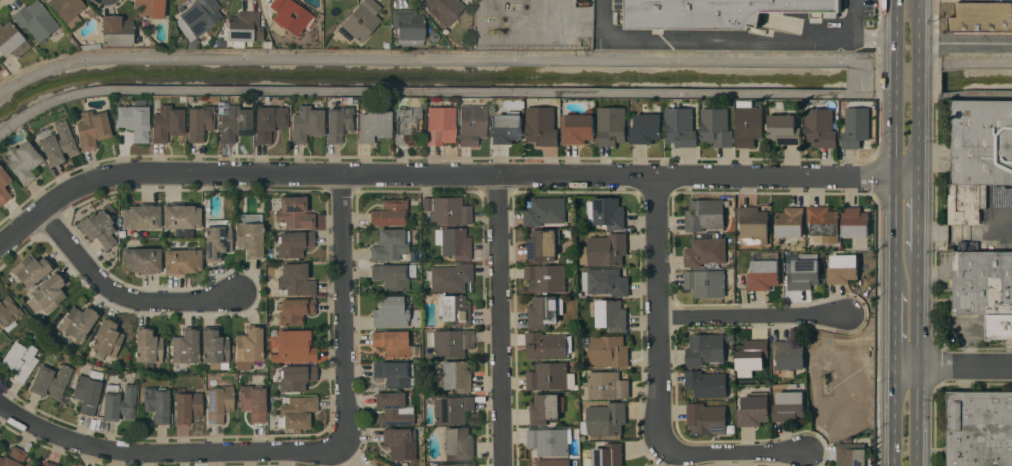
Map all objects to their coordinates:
building: (66, 8)
building: (150, 8)
building: (443, 9)
building: (715, 12)
building: (290, 15)
building: (982, 17)
building: (35, 19)
building: (198, 19)
building: (361, 19)
road: (852, 20)
building: (408, 25)
building: (243, 27)
road: (918, 27)
road: (896, 28)
building: (116, 30)
petroleum well: (494, 31)
building: (11, 40)
road: (874, 40)
road: (708, 41)
road: (965, 44)
road: (502, 62)
road: (895, 80)
road: (918, 80)
building: (406, 117)
building: (134, 119)
building: (199, 121)
building: (268, 121)
building: (166, 122)
building: (234, 122)
building: (338, 122)
building: (305, 123)
building: (373, 123)
building: (471, 123)
building: (440, 124)
building: (611, 125)
building: (856, 125)
building: (542, 126)
building: (578, 126)
building: (749, 126)
building: (506, 127)
building: (681, 127)
building: (716, 127)
building: (820, 127)
building: (91, 128)
building: (646, 128)
building: (785, 129)
road: (894, 141)
road: (918, 141)
building: (58, 144)
building: (978, 155)
building: (23, 161)
road: (436, 174)
road: (906, 178)
building: (3, 182)
building: (447, 209)
building: (544, 211)
building: (294, 212)
building: (389, 212)
building: (609, 213)
building: (704, 214)
road: (917, 214)
building: (141, 216)
building: (181, 217)
building: (753, 222)
building: (789, 222)
building: (854, 222)
building: (823, 223)
building: (98, 227)
building: (249, 233)
road: (964, 233)
road: (894, 234)
building: (217, 238)
building: (453, 242)
building: (294, 243)
building: (389, 244)
building: (542, 246)
building: (604, 250)
building: (705, 252)
building: (142, 259)
building: (181, 261)
building: (31, 269)
building: (842, 269)
building: (764, 272)
building: (804, 272)
building: (392, 274)
building: (449, 276)
building: (545, 277)
building: (295, 279)
building: (605, 281)
building: (705, 283)
building: (985, 288)
building: (47, 292)
road: (122, 295)
road: (342, 308)
building: (453, 308)
building: (8, 310)
building: (294, 310)
building: (390, 311)
building: (544, 311)
road: (659, 311)
building: (611, 315)
road: (754, 316)
road: (500, 320)
building: (78, 321)
road: (894, 329)
building: (106, 337)
building: (450, 341)
building: (392, 342)
building: (547, 345)
building: (147, 346)
building: (248, 346)
building: (293, 346)
building: (184, 348)
building: (214, 348)
building: (705, 349)
building: (608, 350)
building: (788, 354)
building: (751, 355)
road: (917, 358)
building: (20, 360)
road: (953, 368)
building: (394, 373)
building: (456, 376)
building: (296, 377)
building: (549, 377)
building: (50, 380)
petroleum well: (825, 380)
building: (706, 383)
building: (607, 385)
building: (88, 390)
building: (253, 401)
building: (119, 402)
building: (219, 402)
building: (156, 403)
building: (187, 405)
building: (788, 406)
building: (393, 408)
building: (452, 408)
building: (544, 409)
building: (753, 409)
building: (296, 411)
road: (893, 417)
building: (605, 418)
building: (706, 418)
building: (979, 428)
building: (400, 441)
building: (549, 441)
building: (458, 443)
road: (166, 451)
building: (851, 454)
building: (606, 455)
building: (14, 457)
road: (730, 457)
building: (553, 462)
building: (50, 463)
building: (455, 464)
building: (29, 465)
building: (394, 465)
building: (395, 465)

